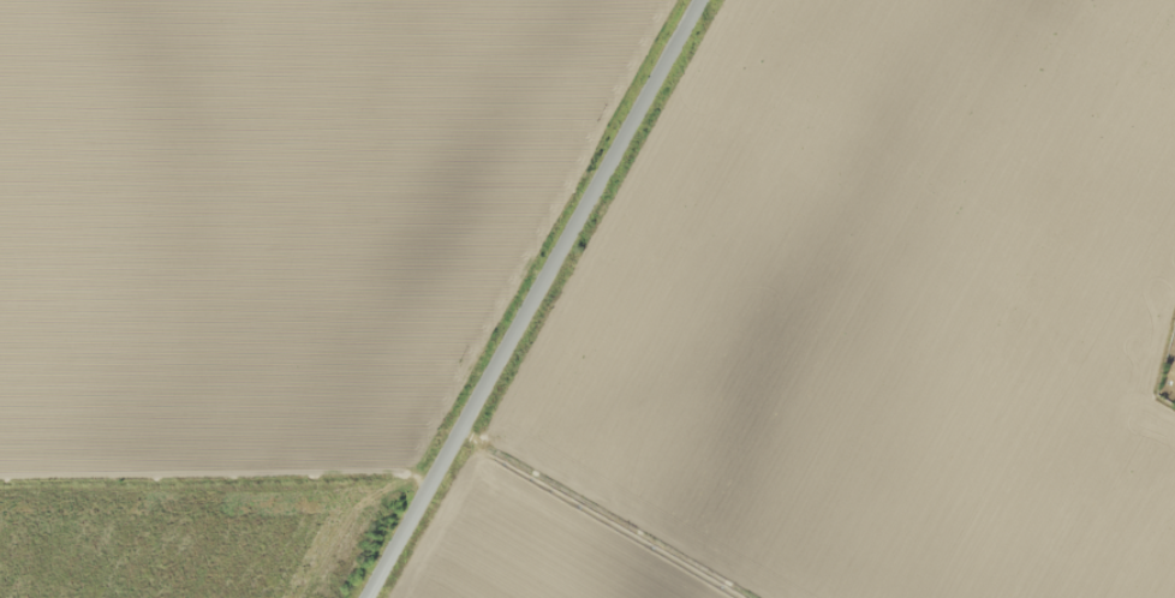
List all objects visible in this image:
park: (1168, 367)

